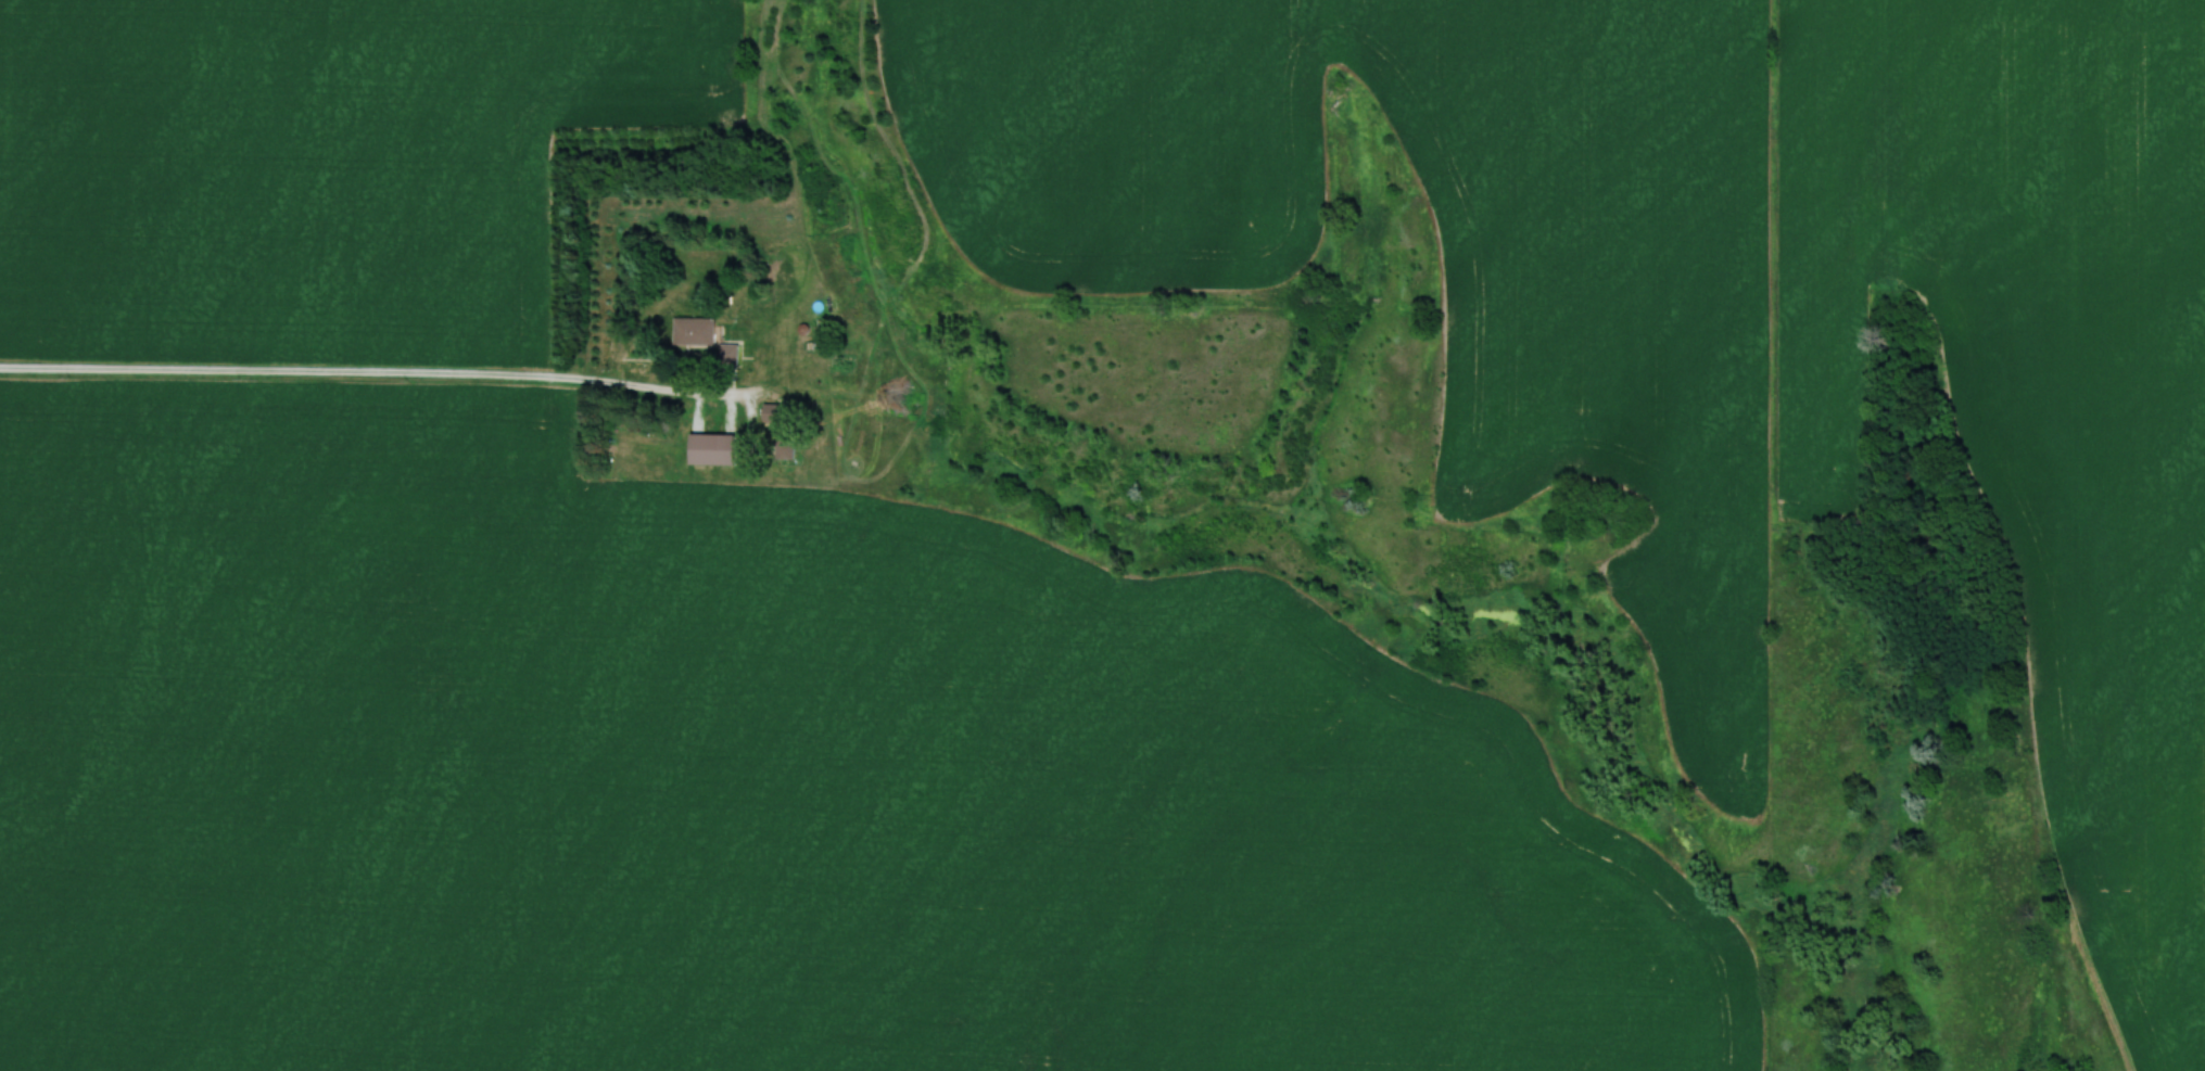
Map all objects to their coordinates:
crop: (311, 163)
building: (693, 330)
building: (727, 354)
road: (340, 374)
crop: (1597, 378)
building: (711, 448)
building: (784, 448)
crop: (738, 781)

